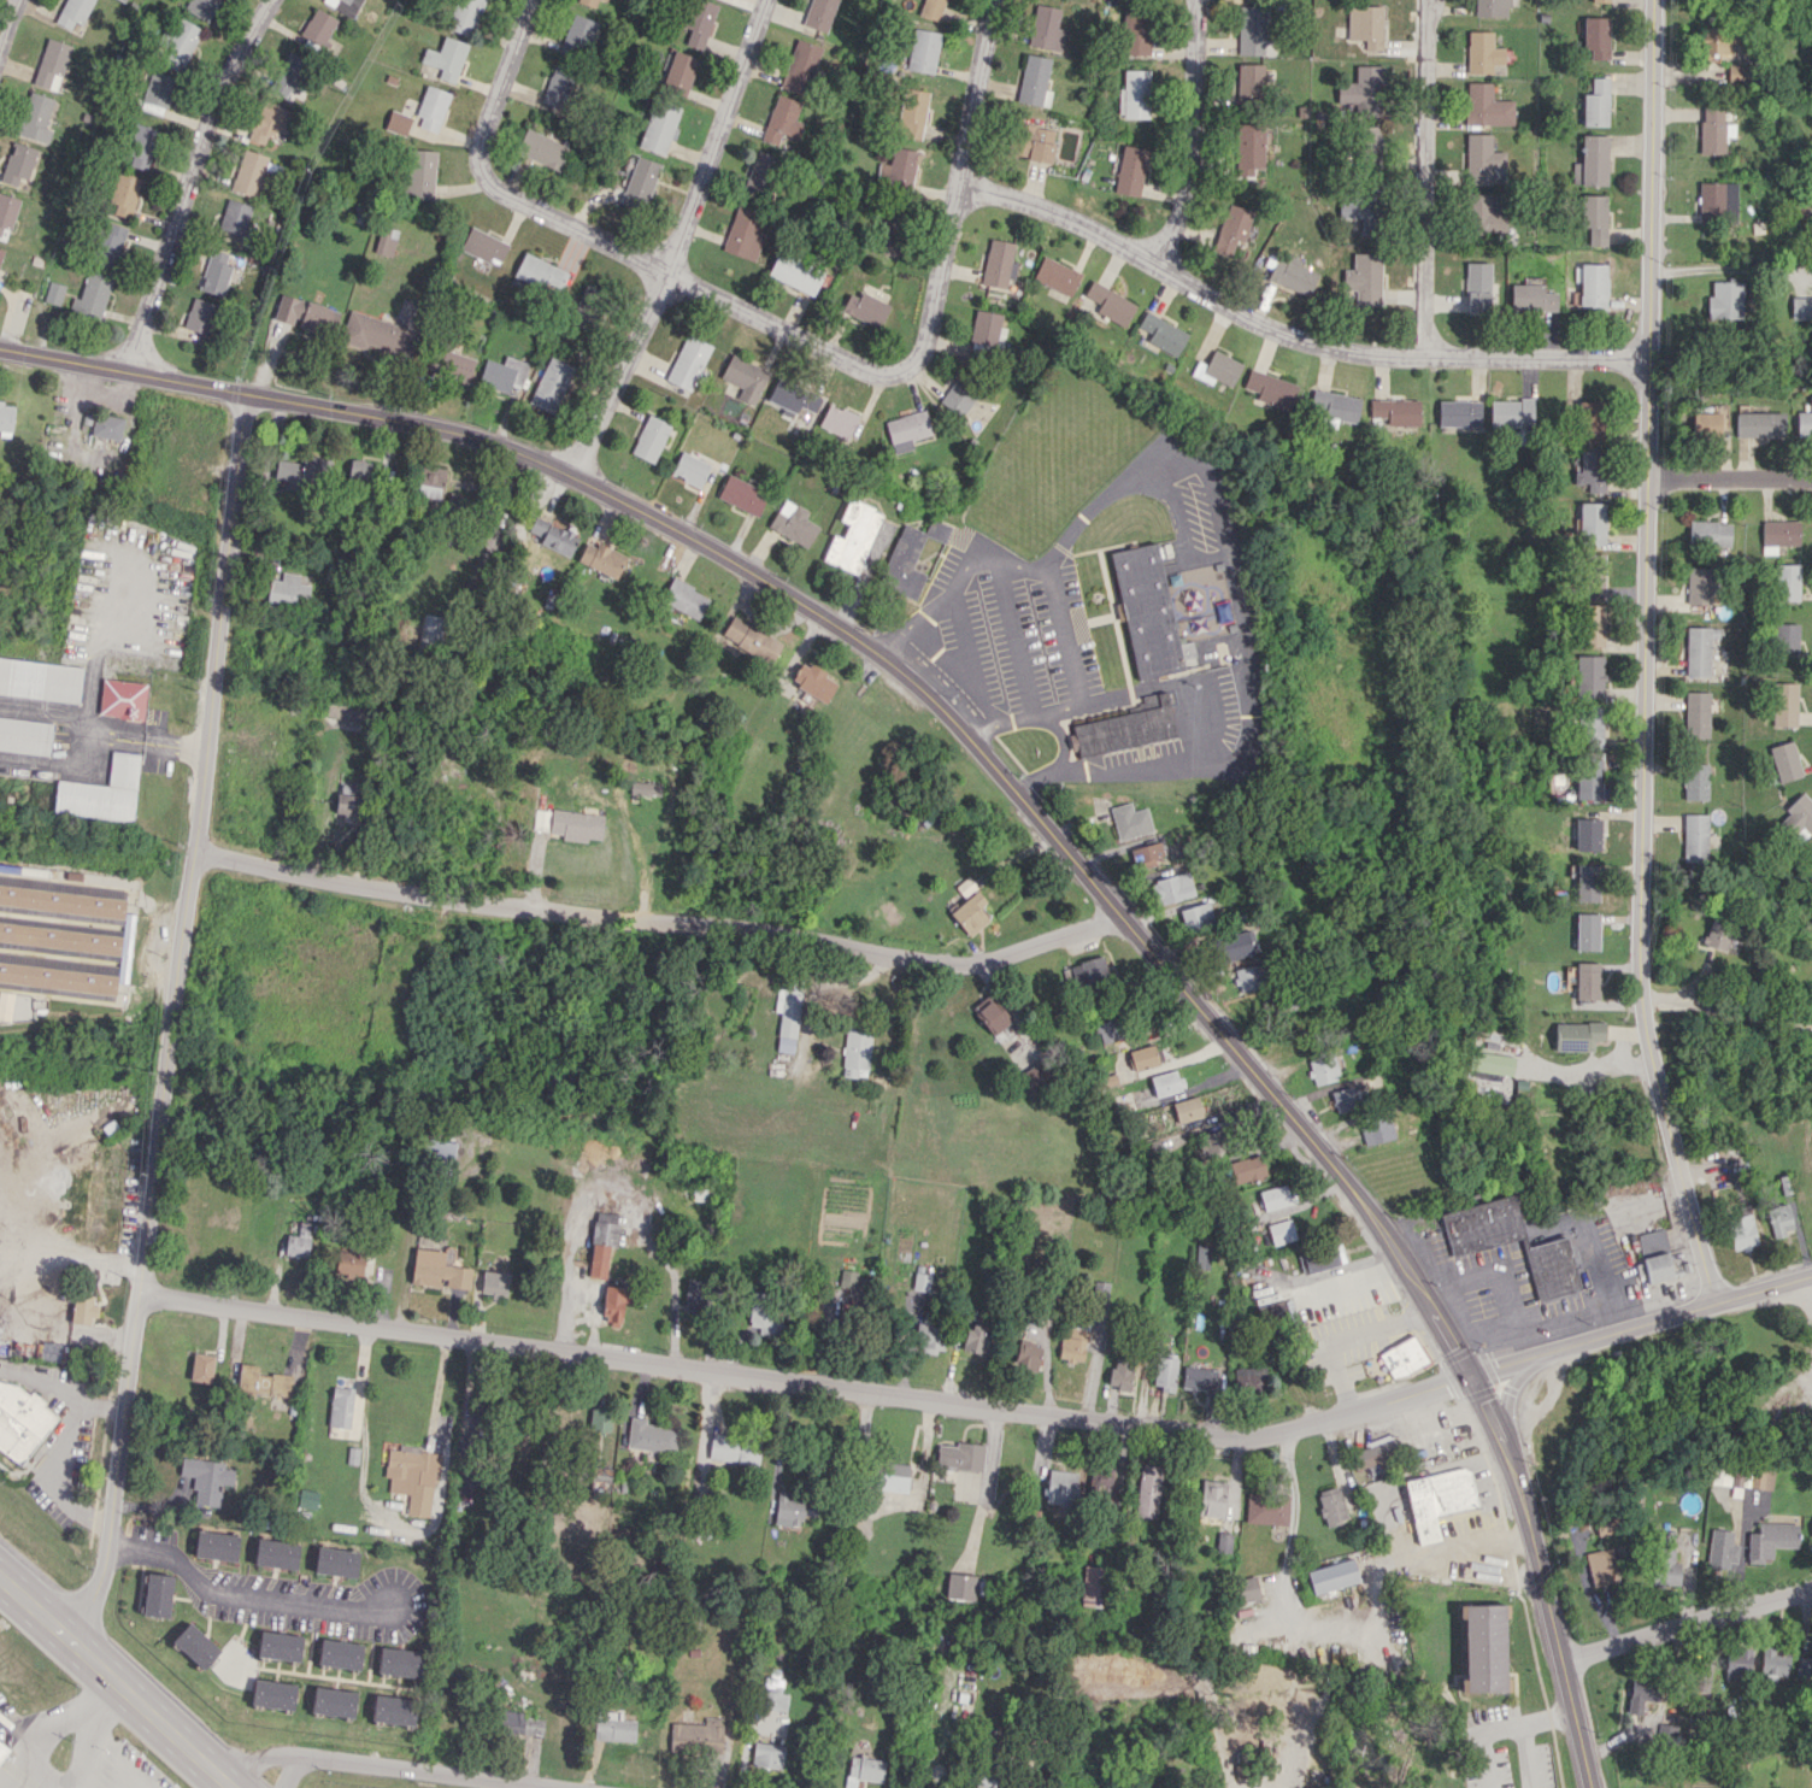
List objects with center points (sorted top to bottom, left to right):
building: (125, 0)
building: (1600, 0)
building: (592, 2)
building: (343, 6)
building: (201, 7)
building: (1490, 7)
building: (931, 8)
building: (73, 12)
building: (819, 13)
road: (6, 16)
building: (465, 16)
building: (698, 22)
building: (1364, 25)
building: (318, 27)
building: (1046, 29)
building: (1249, 30)
building: (1136, 33)
building: (577, 36)
building: (1596, 36)
building: (1717, 40)
building: (177, 45)
building: (923, 51)
building: (1482, 52)
building: (446, 58)
building: (51, 64)
building: (800, 66)
building: (676, 72)
building: (1737, 72)
building: (288, 73)
road: (500, 78)
building: (1034, 81)
building: (1248, 84)
building: (558, 86)
building: (1361, 90)
building: (157, 93)
building: (1135, 94)
building: (1595, 102)
building: (1486, 105)
building: (431, 107)
building: (911, 112)
building: (35, 118)
building: (782, 119)
building: (267, 122)
building: (398, 122)
building: (658, 127)
building: (1713, 130)
road: (1194, 135)
building: (1035, 142)
building: (140, 146)
building: (1367, 147)
building: (1248, 148)
building: (541, 149)
building: (1482, 160)
building: (1592, 161)
building: (18, 163)
building: (898, 169)
building: (1131, 170)
building: (248, 172)
building: (418, 173)
building: (759, 173)
road: (1420, 177)
road: (188, 181)
building: (639, 183)
building: (124, 193)
building: (1716, 200)
building: (1359, 210)
building: (7, 211)
building: (1483, 214)
building: (234, 217)
building: (1593, 217)
building: (1231, 228)
building: (887, 233)
building: (743, 234)
building: (386, 241)
road: (677, 241)
building: (108, 243)
building: (483, 246)
building: (1, 253)
building: (999, 264)
building: (539, 271)
building: (216, 272)
building: (794, 272)
building: (1057, 275)
building: (1292, 276)
building: (1363, 278)
building: (1593, 286)
building: (1476, 288)
building: (54, 293)
building: (92, 295)
building: (1530, 298)
building: (1725, 300)
building: (587, 302)
building: (1111, 302)
building: (1801, 307)
building: (865, 308)
building: (199, 314)
building: (306, 314)
building: (986, 330)
building: (375, 333)
building: (1163, 333)
road: (1286, 333)
building: (688, 361)
road: (852, 363)
building: (455, 365)
building: (1217, 369)
building: (502, 372)
building: (745, 378)
building: (551, 384)
building: (1270, 388)
building: (958, 396)
building: (793, 398)
building: (1335, 406)
building: (1394, 411)
building: (1458, 413)
building: (1511, 413)
building: (6, 418)
building: (1804, 419)
building: (839, 420)
building: (1589, 420)
building: (1705, 423)
building: (1759, 424)
building: (106, 425)
building: (907, 430)
building: (649, 439)
building: (690, 469)
building: (301, 470)
building: (358, 470)
building: (1590, 470)
road: (1729, 478)
building: (430, 482)
building: (740, 494)
building: (458, 501)
building: (793, 523)
building: (1592, 523)
building: (937, 530)
building: (1710, 534)
building: (1778, 535)
building: (553, 536)
building: (853, 536)
building: (601, 559)
building: (904, 563)
building: (1785, 582)
building: (1699, 586)
building: (287, 590)
road: (1051, 590)
building: (684, 598)
building: (1147, 612)
building: (1592, 624)
building: (430, 629)
building: (1785, 636)
building: (751, 639)
building: (1698, 651)
road: (877, 653)
road: (1645, 655)
building: (1589, 676)
building: (40, 680)
building: (812, 681)
building: (124, 694)
building: (1784, 704)
building: (1696, 713)
building: (1126, 727)
building: (1593, 727)
building: (24, 734)
building: (1784, 760)
road: (1061, 765)
building: (1588, 778)
building: (1695, 781)
building: (645, 787)
building: (102, 792)
building: (348, 806)
building: (1798, 818)
building: (1129, 821)
building: (567, 823)
building: (1590, 830)
building: (1695, 837)
building: (1145, 854)
building: (1587, 882)
building: (965, 887)
building: (1171, 888)
building: (970, 912)
building: (1196, 917)
road: (657, 918)
building: (1587, 931)
building: (1717, 933)
building: (59, 935)
building: (1234, 946)
building: (1090, 972)
building: (1248, 977)
building: (1587, 980)
building: (5, 1005)
building: (990, 1013)
road: (170, 1017)
building: (787, 1017)
building: (1106, 1030)
building: (1577, 1035)
building: (855, 1051)
building: (1145, 1057)
building: (1490, 1063)
building: (1322, 1069)
building: (1035, 1076)
building: (1165, 1083)
building: (1490, 1087)
building: (1345, 1098)
building: (1187, 1108)
building: (1375, 1130)
building: (1211, 1141)
building: (440, 1148)
building: (93, 1159)
building: (1247, 1169)
building: (701, 1193)
building: (1273, 1196)
building: (1778, 1219)
building: (1481, 1225)
building: (93, 1228)
building: (1279, 1231)
building: (1740, 1231)
building: (298, 1241)
building: (601, 1246)
building: (1654, 1255)
building: (1201, 1258)
building: (1322, 1258)
building: (348, 1263)
building: (439, 1269)
building: (1551, 1269)
building: (847, 1278)
building: (920, 1281)
building: (493, 1283)
building: (695, 1293)
building: (614, 1302)
building: (83, 1308)
building: (848, 1310)
building: (1272, 1311)
building: (766, 1312)
road: (1643, 1324)
building: (930, 1333)
building: (976, 1341)
building: (1072, 1345)
building: (1026, 1353)
building: (1402, 1357)
building: (201, 1368)
building: (1120, 1372)
building: (1164, 1372)
building: (1199, 1377)
building: (263, 1381)
building: (1248, 1381)
road: (41, 1383)
road: (808, 1383)
road: (100, 1406)
building: (339, 1406)
building: (599, 1418)
building: (22, 1422)
building: (649, 1436)
road: (66, 1448)
building: (734, 1448)
building: (1375, 1452)
building: (960, 1455)
building: (600, 1474)
building: (1725, 1475)
building: (892, 1476)
building: (412, 1477)
building: (206, 1478)
building: (1761, 1478)
building: (1059, 1487)
building: (1148, 1490)
building: (1211, 1498)
building: (1436, 1499)
building: (1330, 1506)
building: (792, 1508)
building: (1266, 1508)
road: (80, 1512)
building: (1811, 1536)
building: (1770, 1540)
building: (1223, 1542)
building: (216, 1545)
building: (1722, 1548)
building: (276, 1553)
building: (1665, 1558)
building: (335, 1561)
building: (1601, 1566)
building: (1331, 1576)
road: (1542, 1580)
building: (1093, 1581)
building: (959, 1586)
building: (1246, 1589)
building: (157, 1594)
road: (243, 1596)
road: (1687, 1624)
building: (195, 1645)
building: (278, 1646)
building: (1482, 1647)
building: (339, 1653)
building: (399, 1661)
building: (1736, 1661)
building: (1773, 1663)
building: (1804, 1668)
road: (116, 1682)
building: (1641, 1693)
building: (272, 1694)
building: (775, 1698)
building: (333, 1701)
building: (393, 1710)
road: (1551, 1718)
building: (520, 1723)
road: (59, 1724)
building: (612, 1727)
building: (695, 1737)
road: (1481, 1737)
building: (4, 1743)
road: (80, 1752)
building: (766, 1754)
road: (1526, 1755)
road: (14, 1757)
road: (383, 1765)
road: (290, 1770)
building: (863, 1770)
building: (987, 1780)
road: (1271, 1784)
road: (135, 1786)

